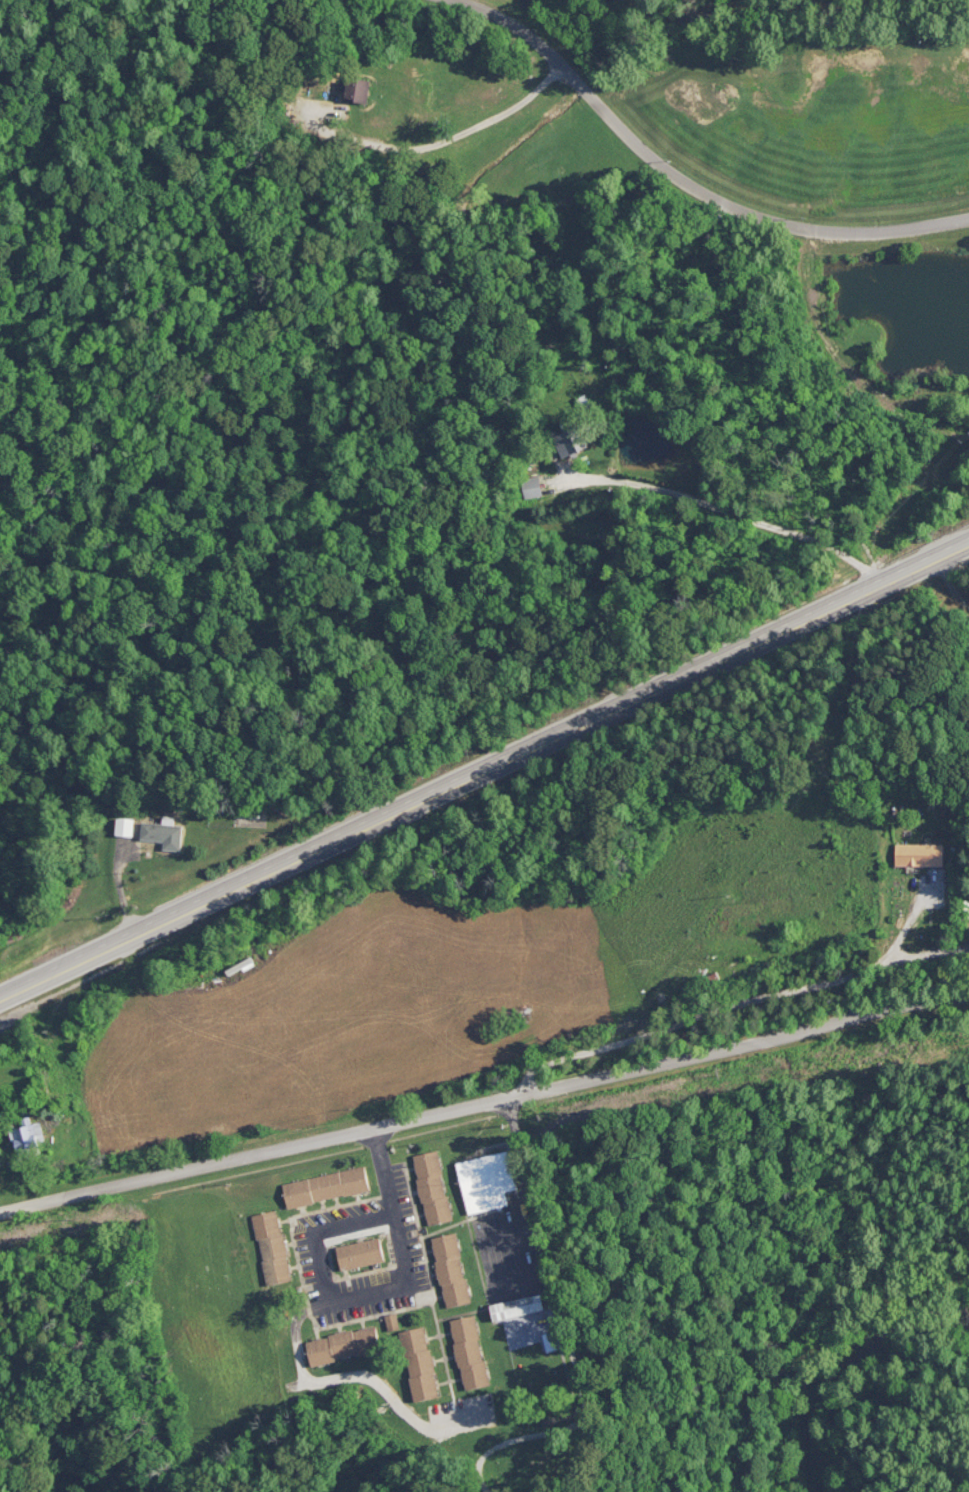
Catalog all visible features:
building: (360, 89)
road: (436, 142)
park: (809, 160)
road: (684, 181)
building: (567, 441)
building: (531, 485)
road: (723, 510)
road: (951, 583)
road: (484, 770)
building: (128, 827)
building: (166, 834)
building: (922, 854)
road: (120, 890)
road: (931, 954)
building: (755, 962)
building: (243, 968)
building: (703, 984)
road: (741, 1001)
road: (485, 1102)
building: (32, 1138)
building: (486, 1179)
building: (326, 1184)
building: (432, 1185)
building: (272, 1245)
building: (361, 1252)
road: (548, 1255)
building: (451, 1268)
road: (378, 1292)
building: (519, 1305)
building: (392, 1320)
building: (555, 1341)
building: (344, 1343)
building: (470, 1350)
building: (420, 1362)
road: (519, 1442)
park: (548, 1452)
road: (590, 1458)

